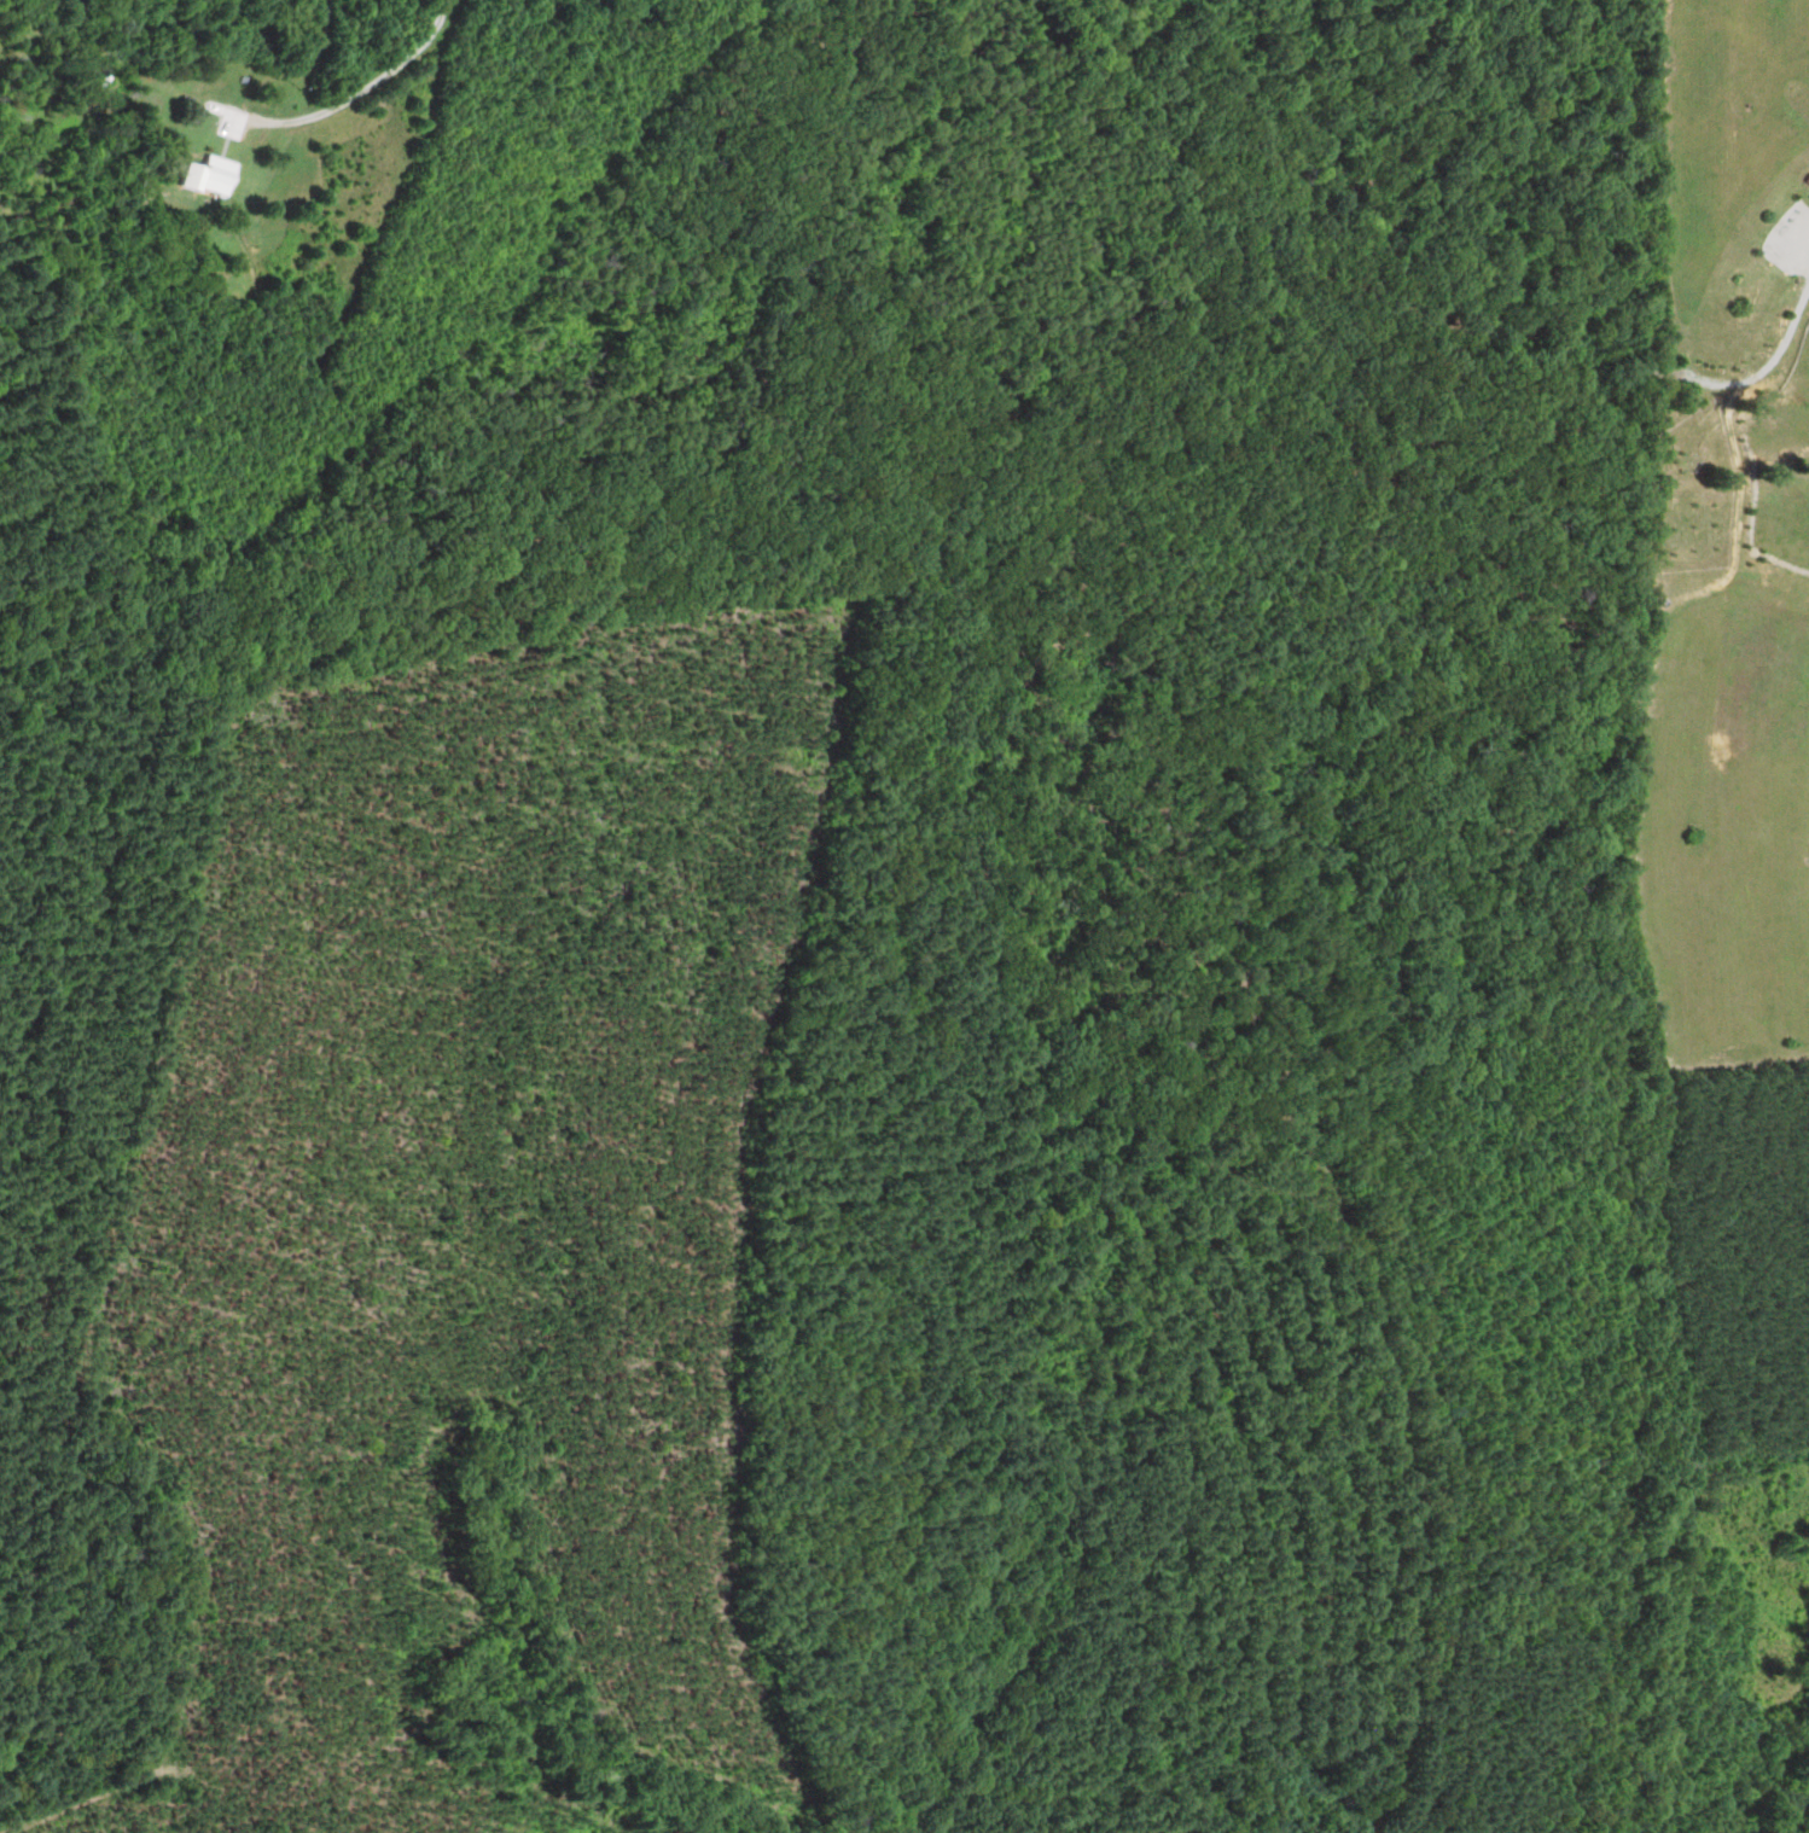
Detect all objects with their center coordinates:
road: (354, 93)
building: (217, 176)
building: (136, 185)
road: (1466, 432)
road: (1225, 885)

